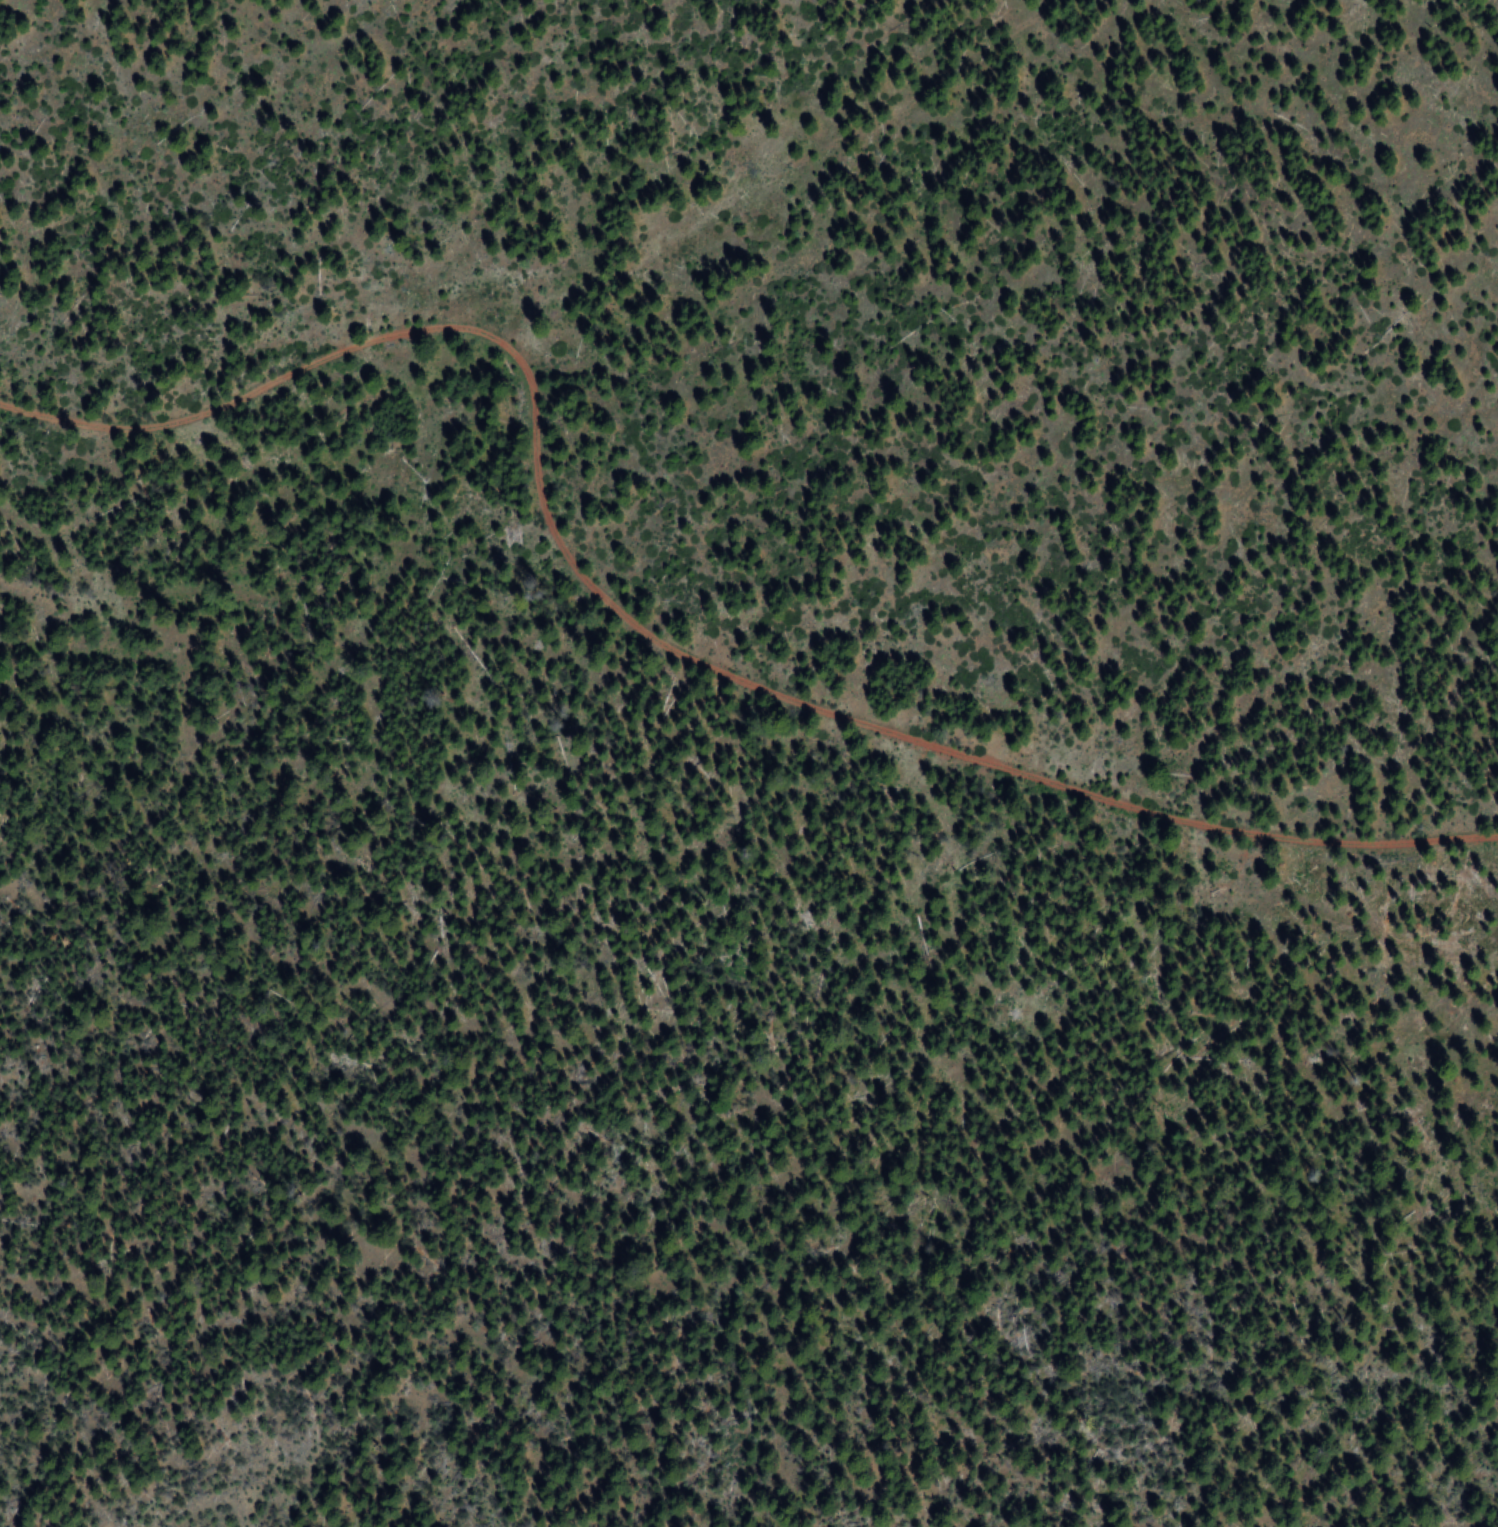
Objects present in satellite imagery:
road: (654, 638)

